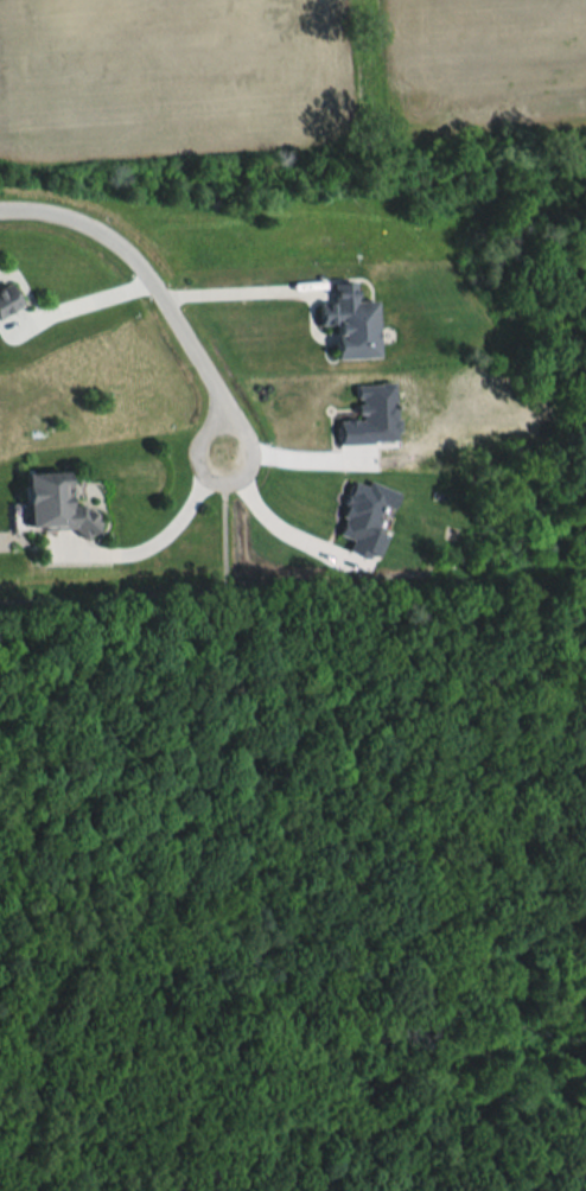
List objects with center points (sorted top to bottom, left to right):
crop: (486, 64)
crop: (172, 75)
road: (157, 288)
road: (238, 292)
building: (5, 300)
road: (78, 300)
building: (348, 325)
road: (306, 464)
building: (49, 508)
road: (269, 524)
road: (166, 537)

